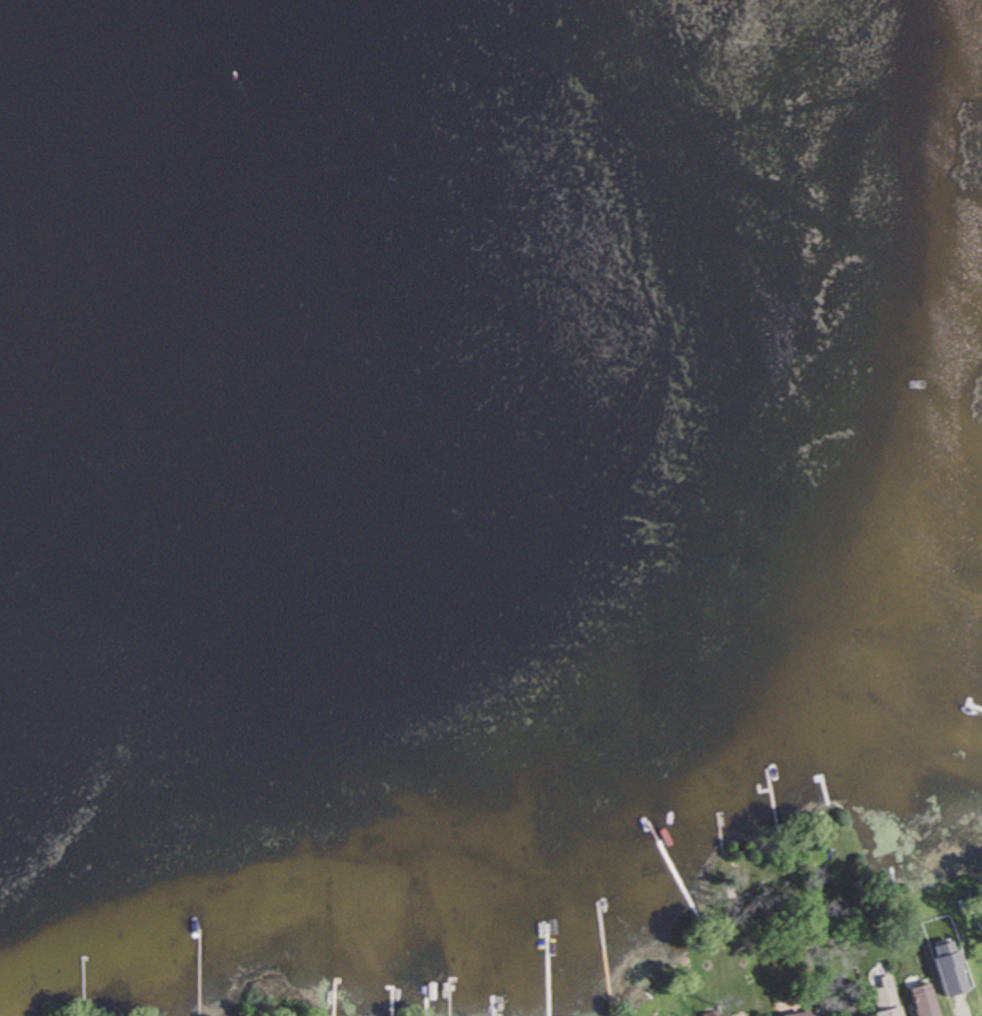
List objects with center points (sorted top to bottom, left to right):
building: (952, 973)
building: (887, 999)
building: (925, 1001)
building: (847, 1008)
building: (804, 1014)

